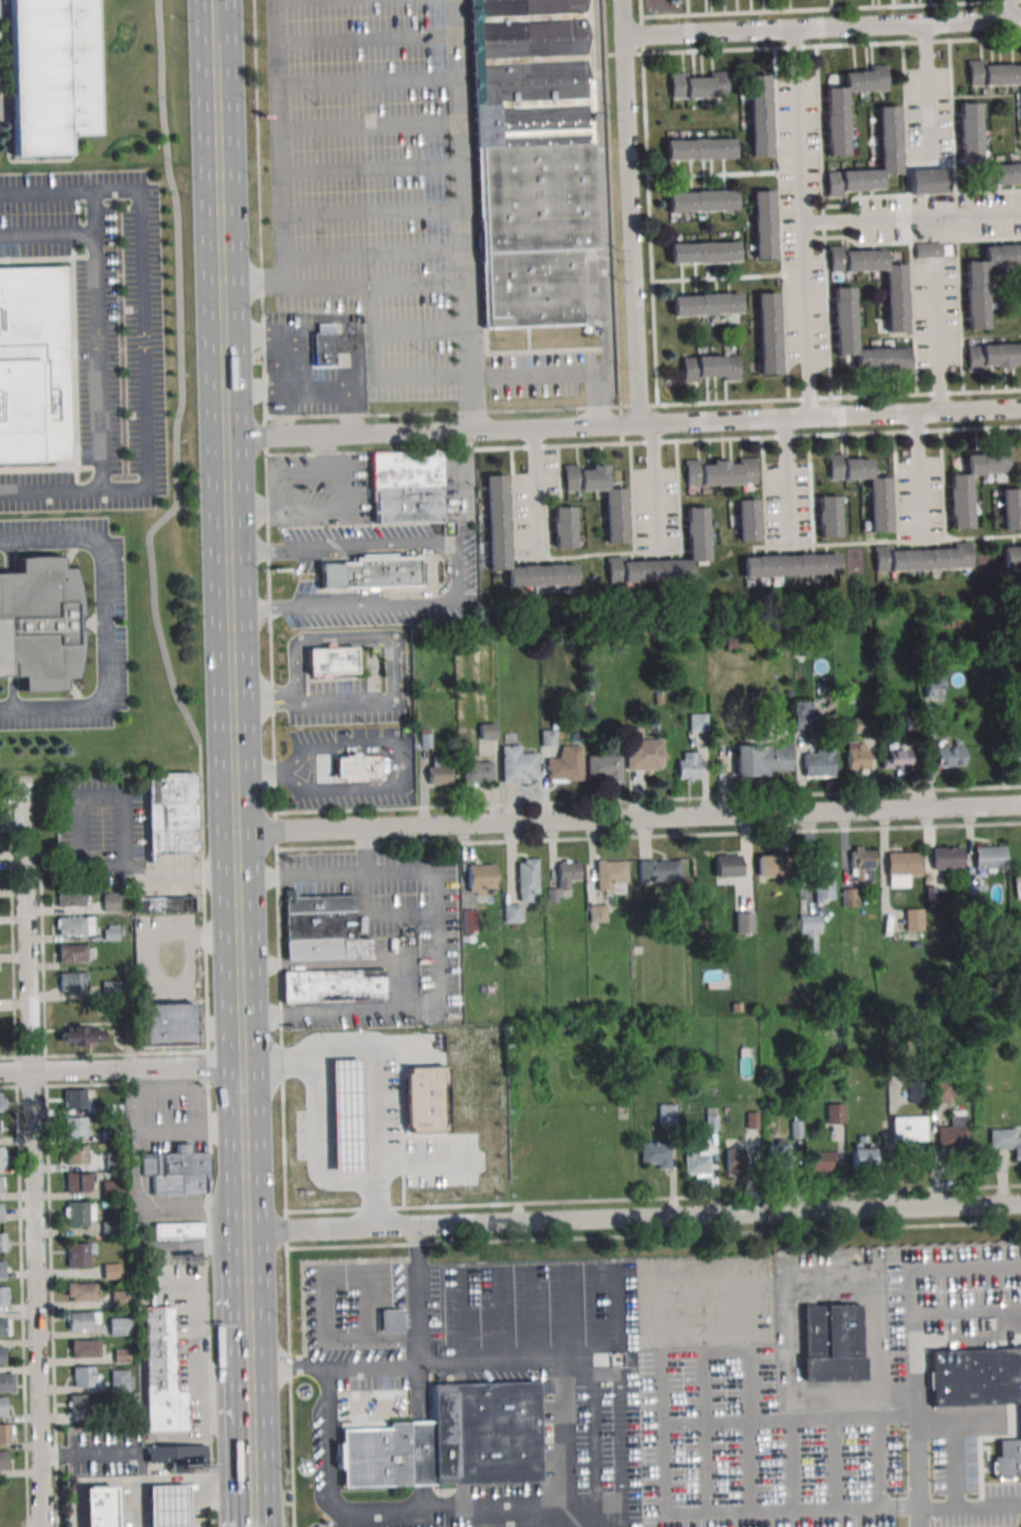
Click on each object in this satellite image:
road: (986, 1)
road: (333, 2)
road: (831, 4)
road: (685, 7)
road: (831, 9)
road: (1011, 10)
road: (623, 18)
road: (1016, 20)
road: (968, 22)
road: (861, 27)
road: (710, 33)
road: (973, 39)
road: (376, 44)
road: (784, 46)
building: (532, 72)
building: (994, 72)
building: (53, 74)
building: (698, 85)
road: (378, 87)
road: (928, 94)
road: (1014, 94)
building: (759, 115)
road: (952, 116)
road: (904, 118)
building: (835, 123)
road: (800, 126)
building: (968, 131)
road: (379, 132)
building: (887, 137)
road: (295, 140)
building: (699, 148)
building: (1002, 172)
road: (381, 174)
road: (713, 175)
building: (926, 180)
road: (910, 194)
building: (536, 196)
building: (701, 200)
road: (649, 202)
road: (611, 203)
road: (602, 213)
road: (94, 215)
road: (466, 215)
road: (912, 217)
road: (382, 218)
road: (217, 220)
road: (824, 221)
building: (762, 223)
road: (780, 223)
road: (630, 230)
road: (921, 240)
building: (927, 249)
building: (703, 251)
road: (383, 252)
road: (717, 277)
road: (343, 278)
building: (985, 279)
building: (539, 288)
road: (141, 293)
building: (894, 301)
building: (705, 303)
road: (96, 315)
road: (960, 315)
building: (843, 317)
road: (913, 317)
road: (806, 321)
road: (419, 329)
building: (767, 333)
road: (991, 336)
road: (936, 338)
building: (323, 348)
building: (993, 356)
road: (284, 357)
building: (33, 364)
building: (710, 367)
road: (375, 373)
road: (540, 377)
road: (342, 390)
road: (254, 392)
road: (839, 396)
road: (461, 411)
road: (980, 413)
road: (927, 414)
road: (862, 418)
road: (797, 421)
road: (720, 423)
road: (646, 425)
road: (585, 426)
road: (378, 435)
road: (643, 441)
building: (407, 469)
road: (460, 470)
building: (719, 471)
road: (282, 473)
road: (919, 473)
road: (787, 481)
road: (536, 485)
road: (50, 487)
road: (656, 487)
building: (959, 501)
building: (408, 505)
building: (878, 505)
building: (1011, 508)
road: (331, 510)
building: (615, 516)
building: (828, 516)
building: (496, 519)
building: (746, 519)
building: (562, 527)
road: (151, 531)
building: (696, 531)
road: (982, 536)
road: (855, 542)
road: (920, 542)
road: (789, 548)
road: (656, 554)
road: (591, 555)
building: (1012, 555)
road: (541, 558)
building: (922, 558)
building: (789, 564)
building: (372, 573)
road: (455, 573)
road: (103, 622)
building: (39, 624)
road: (228, 637)
building: (730, 642)
road: (393, 646)
building: (800, 651)
building: (332, 661)
building: (932, 684)
road: (263, 699)
building: (802, 715)
building: (698, 721)
building: (911, 723)
building: (863, 724)
building: (487, 731)
building: (548, 737)
building: (425, 738)
building: (1016, 753)
building: (643, 754)
building: (949, 756)
building: (855, 757)
building: (763, 758)
building: (894, 758)
building: (820, 759)
road: (272, 763)
road: (406, 763)
building: (518, 764)
building: (565, 764)
building: (688, 765)
building: (357, 767)
building: (603, 767)
building: (438, 771)
building: (477, 772)
road: (256, 773)
road: (647, 799)
road: (101, 800)
building: (171, 812)
road: (627, 822)
road: (83, 832)
road: (648, 837)
building: (989, 857)
building: (945, 858)
road: (103, 862)
building: (860, 863)
building: (727, 865)
building: (774, 865)
building: (901, 867)
building: (658, 869)
road: (300, 873)
building: (566, 873)
building: (608, 874)
road: (145, 875)
building: (823, 876)
building: (479, 878)
building: (527, 878)
building: (931, 894)
building: (550, 895)
building: (849, 896)
building: (70, 898)
building: (975, 898)
building: (110, 902)
building: (163, 904)
building: (512, 913)
building: (597, 913)
road: (379, 916)
building: (913, 919)
building: (469, 920)
building: (743, 922)
building: (75, 925)
road: (25, 928)
building: (323, 930)
building: (111, 932)
building: (809, 933)
road: (236, 951)
building: (72, 953)
road: (345, 963)
building: (173, 973)
building: (71, 980)
road: (436, 983)
building: (334, 985)
building: (110, 988)
building: (169, 1028)
building: (81, 1036)
road: (104, 1054)
road: (305, 1059)
road: (134, 1068)
road: (14, 1071)
road: (66, 1086)
building: (941, 1090)
road: (166, 1091)
building: (917, 1091)
building: (461, 1096)
building: (74, 1098)
building: (425, 1100)
building: (2, 1102)
building: (340, 1106)
building: (100, 1109)
building: (834, 1113)
building: (666, 1114)
building: (347, 1116)
building: (711, 1119)
building: (750, 1119)
building: (75, 1126)
building: (794, 1126)
building: (907, 1128)
road: (187, 1131)
building: (952, 1131)
building: (109, 1135)
road: (371, 1138)
building: (1005, 1140)
road: (320, 1144)
road: (242, 1150)
road: (18, 1152)
road: (48, 1152)
building: (655, 1153)
building: (76, 1154)
building: (780, 1154)
building: (862, 1156)
building: (2, 1159)
building: (732, 1159)
building: (113, 1160)
building: (823, 1160)
building: (696, 1161)
building: (177, 1170)
building: (76, 1182)
building: (1, 1184)
building: (111, 1188)
road: (136, 1192)
road: (652, 1198)
building: (116, 1203)
building: (1, 1211)
building: (79, 1214)
road: (632, 1221)
building: (110, 1230)
building: (177, 1230)
road: (653, 1235)
building: (3, 1242)
road: (196, 1247)
building: (78, 1255)
road: (245, 1268)
building: (2, 1269)
building: (111, 1271)
road: (947, 1273)
building: (123, 1274)
building: (81, 1292)
building: (4, 1295)
road: (206, 1296)
road: (422, 1297)
road: (35, 1298)
building: (120, 1299)
road: (966, 1310)
road: (597, 1314)
road: (567, 1315)
road: (515, 1316)
road: (542, 1316)
road: (461, 1317)
road: (490, 1317)
building: (83, 1320)
building: (391, 1321)
building: (118, 1326)
building: (5, 1327)
road: (199, 1343)
building: (832, 1343)
road: (247, 1345)
building: (84, 1348)
building: (2, 1355)
building: (121, 1356)
road: (629, 1362)
building: (161, 1372)
building: (83, 1376)
building: (977, 1377)
building: (121, 1380)
building: (7, 1382)
road: (724, 1385)
road: (832, 1399)
building: (2, 1406)
building: (85, 1406)
road: (918, 1414)
road: (200, 1419)
building: (483, 1431)
building: (6, 1433)
road: (980, 1437)
road: (122, 1453)
road: (594, 1453)
road: (630, 1454)
building: (386, 1455)
building: (179, 1456)
road: (250, 1456)
building: (4, 1460)
building: (1003, 1465)
road: (223, 1480)
road: (168, 1482)
road: (89, 1484)
road: (166, 1492)
road: (191, 1492)
road: (143, 1493)
road: (196, 1504)
road: (140, 1505)
road: (166, 1505)
road: (191, 1505)
road: (143, 1506)
building: (166, 1506)
building: (100, 1507)
building: (4, 1508)
road: (454, 1510)
road: (967, 1515)
road: (167, 1517)
road: (191, 1517)
road: (144, 1518)

